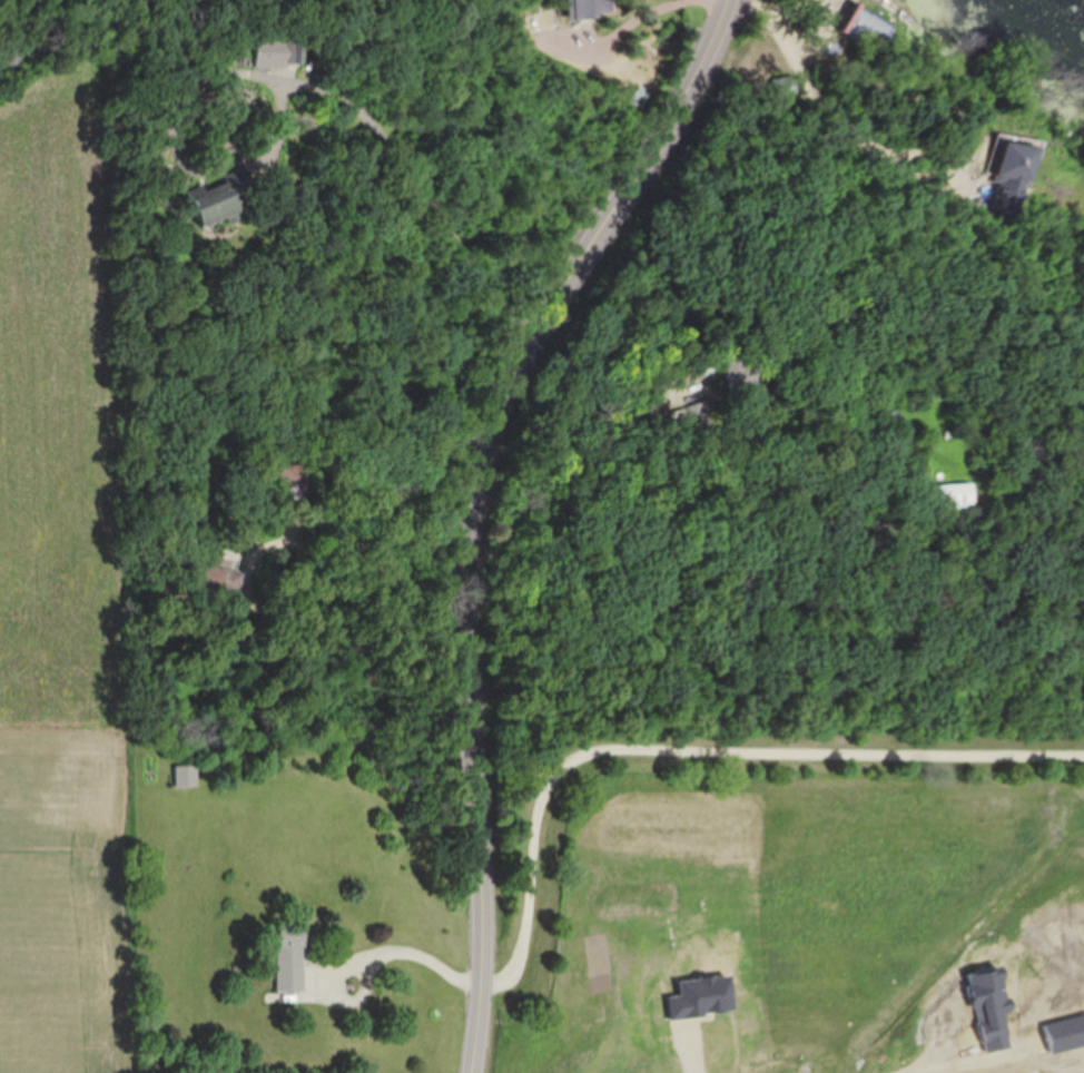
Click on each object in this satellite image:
building: (581, 9)
road: (640, 18)
building: (873, 37)
building: (277, 51)
road: (831, 102)
road: (425, 193)
building: (221, 200)
building: (738, 374)
building: (947, 499)
road: (470, 503)
road: (535, 508)
building: (216, 579)
road: (605, 749)
building: (186, 777)
building: (293, 956)
road: (943, 1066)

